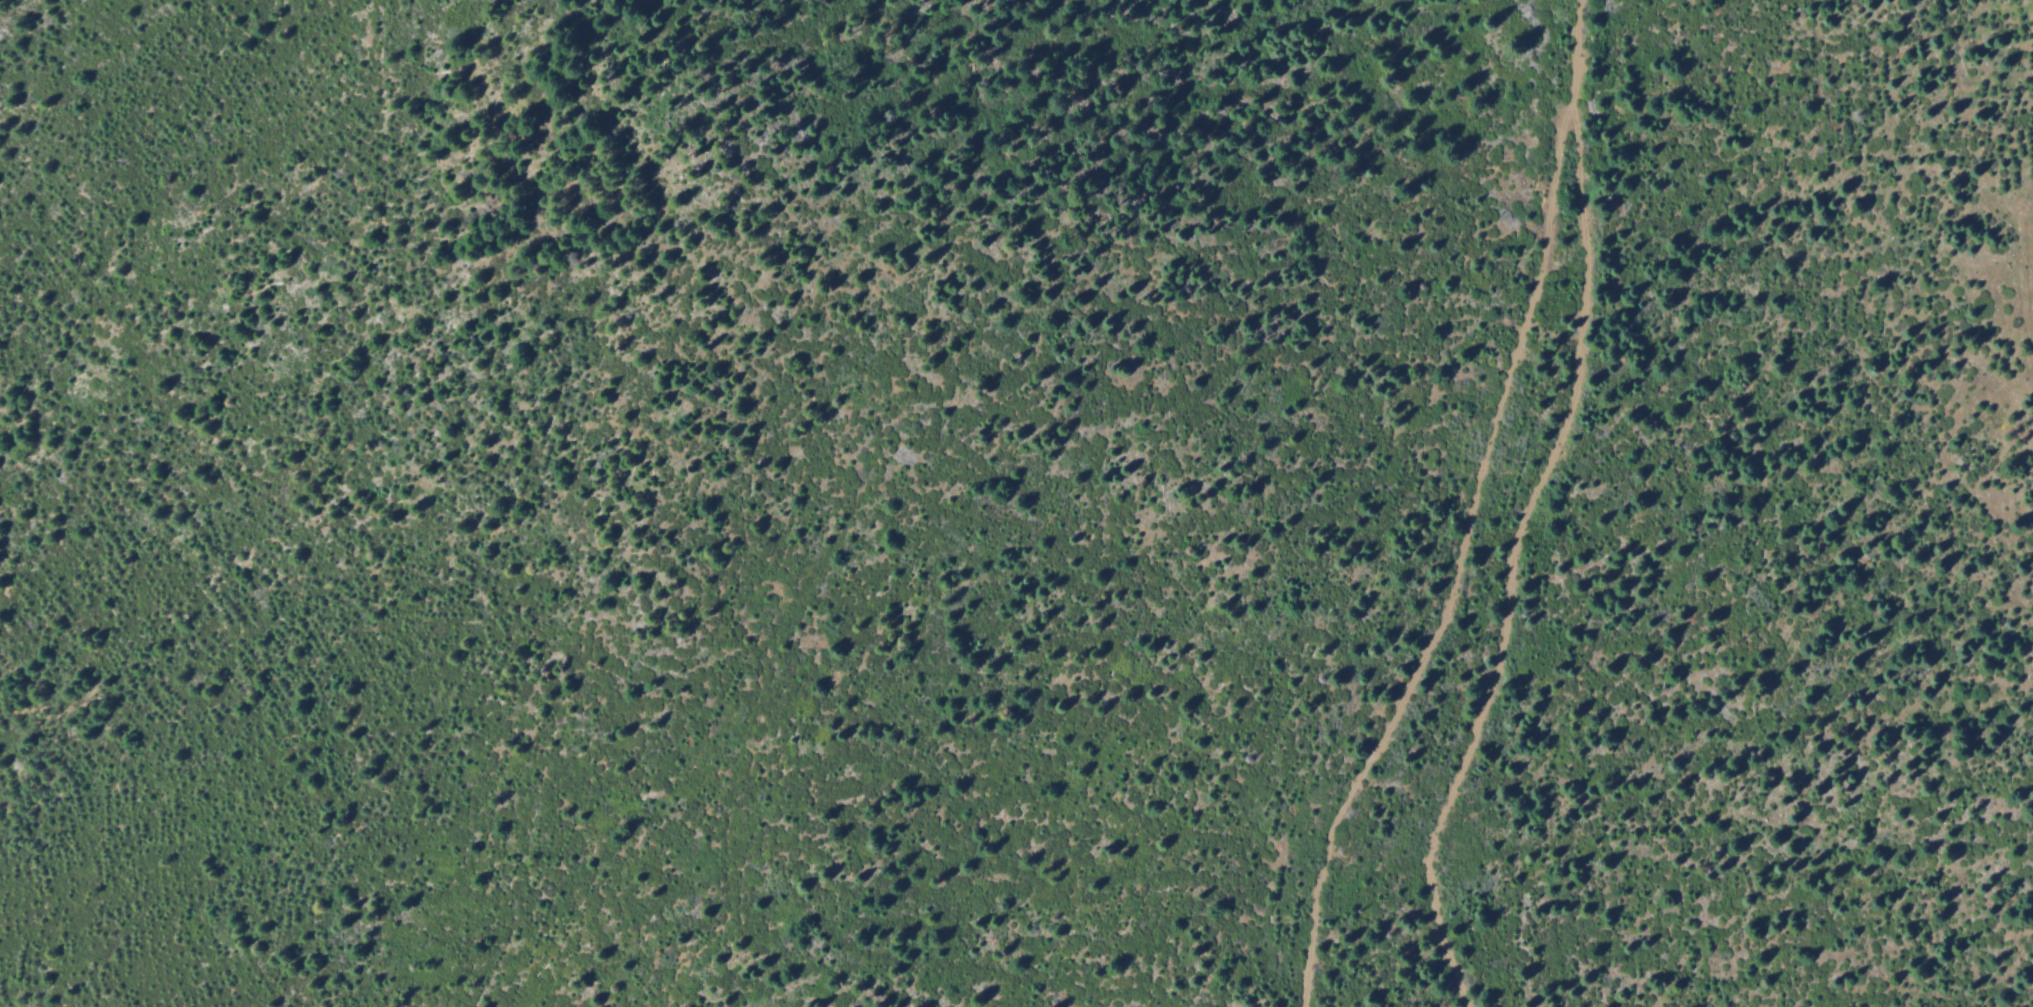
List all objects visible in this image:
road: (868, 23)
road: (1527, 507)
road: (1462, 556)

